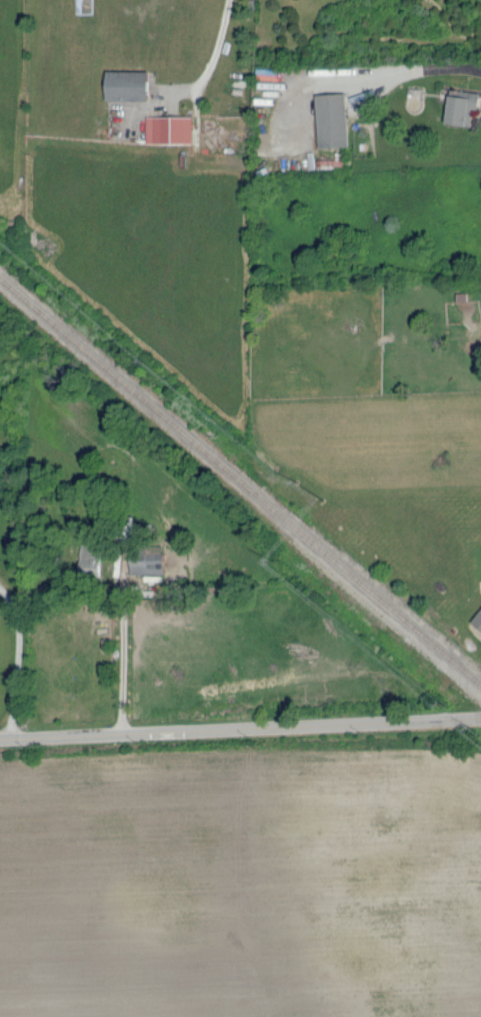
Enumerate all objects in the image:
road: (217, 46)
road: (440, 70)
building: (127, 86)
building: (460, 106)
building: (332, 120)
building: (168, 129)
power tower: (142, 361)
railway: (240, 476)
power tower: (295, 480)
power tower: (322, 497)
building: (89, 558)
power tower: (271, 559)
building: (147, 565)
building: (477, 620)
road: (123, 650)
road: (17, 660)
power tower: (440, 702)
road: (240, 727)
power tower: (470, 728)

